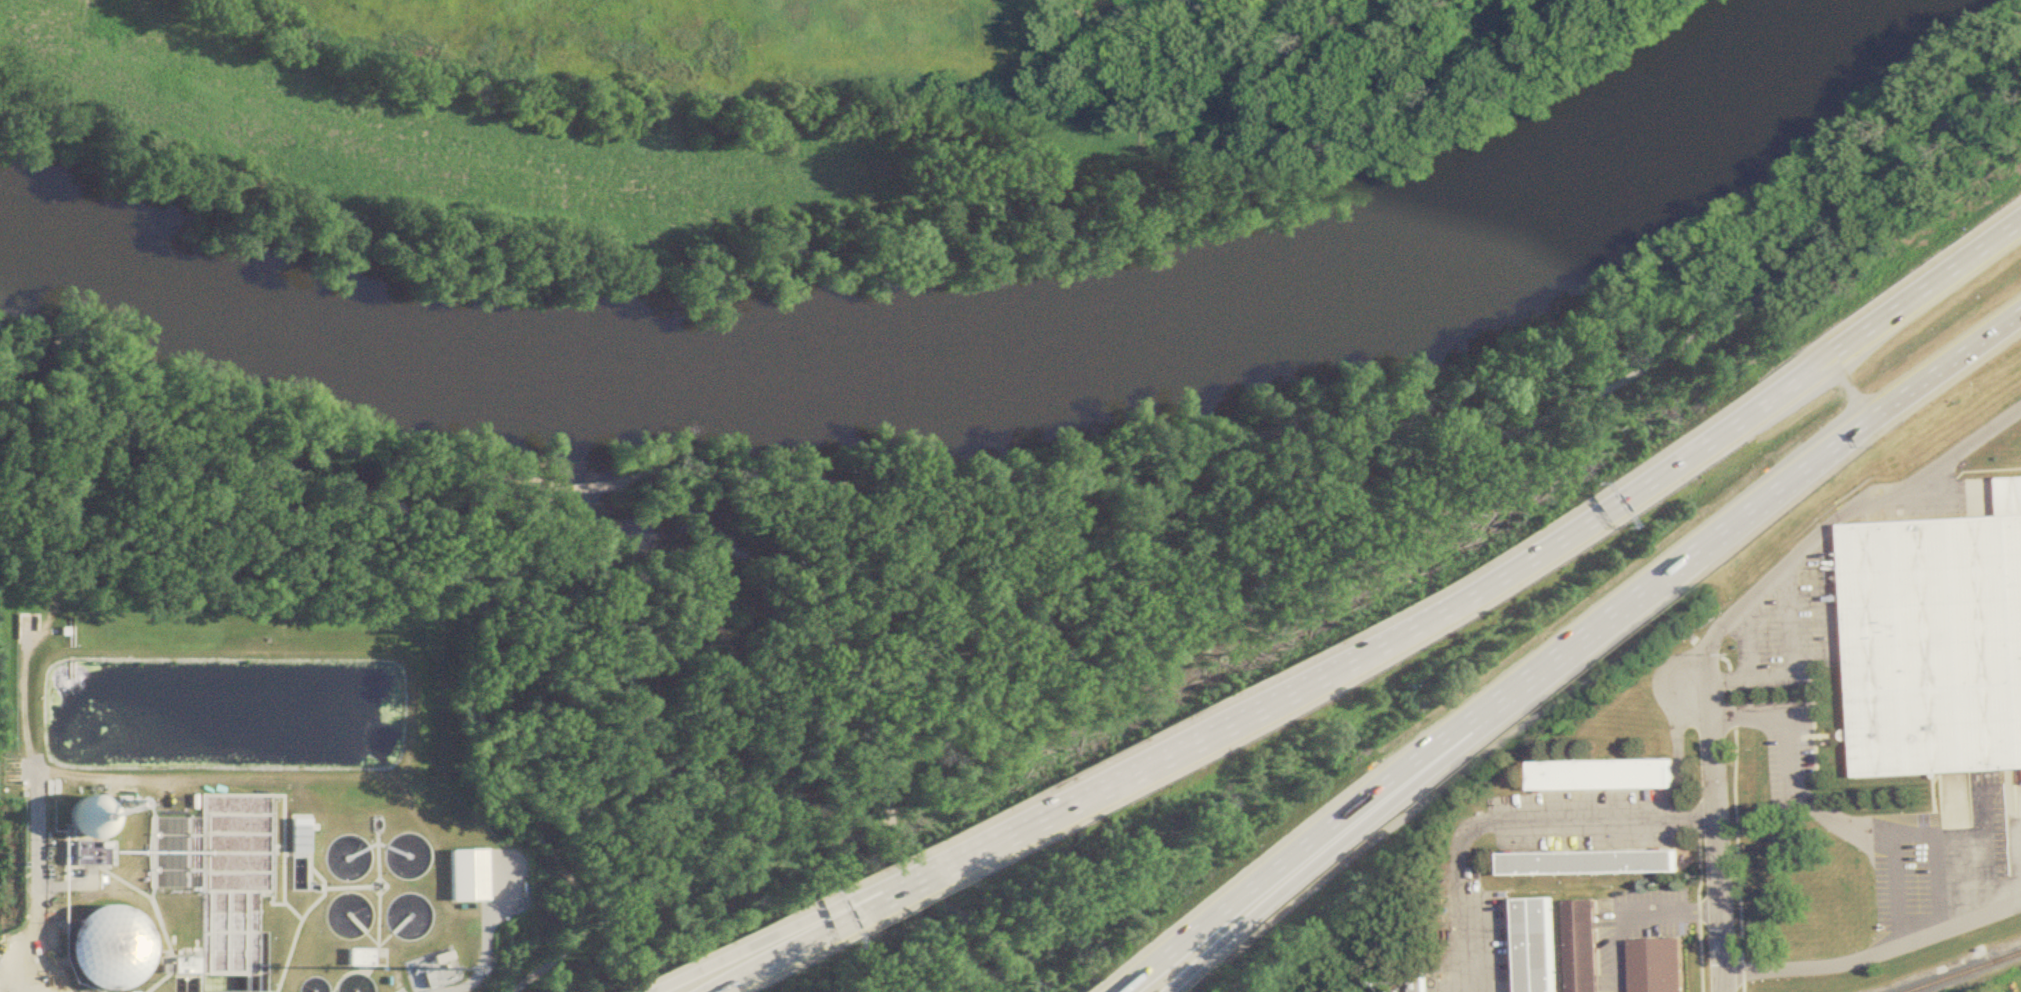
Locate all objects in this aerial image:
river: (25, 309)
river: (963, 347)
road: (1850, 394)
road: (1376, 434)
road: (587, 488)
road: (1837, 521)
road: (445, 573)
road: (1507, 575)
road: (1750, 641)
road: (1559, 644)
building: (1934, 644)
road: (1792, 668)
river: (641, 699)
road: (894, 765)
building: (1604, 775)
road: (1437, 788)
wastewater plant: (240, 805)
building: (78, 819)
road: (1355, 824)
road: (1510, 825)
road: (1856, 831)
road: (1715, 835)
building: (293, 841)
building: (1590, 863)
building: (351, 868)
road: (919, 875)
road: (29, 879)
road: (926, 883)
road: (1635, 914)
building: (404, 921)
road: (482, 937)
road: (757, 937)
building: (1539, 945)
road: (799, 946)
building: (1584, 946)
building: (97, 950)
building: (354, 958)
building: (436, 959)
railway: (2000, 959)
road: (1850, 962)
building: (1658, 966)
railway: (1965, 972)
building: (416, 982)
building: (1422, 982)
road: (1109, 991)

